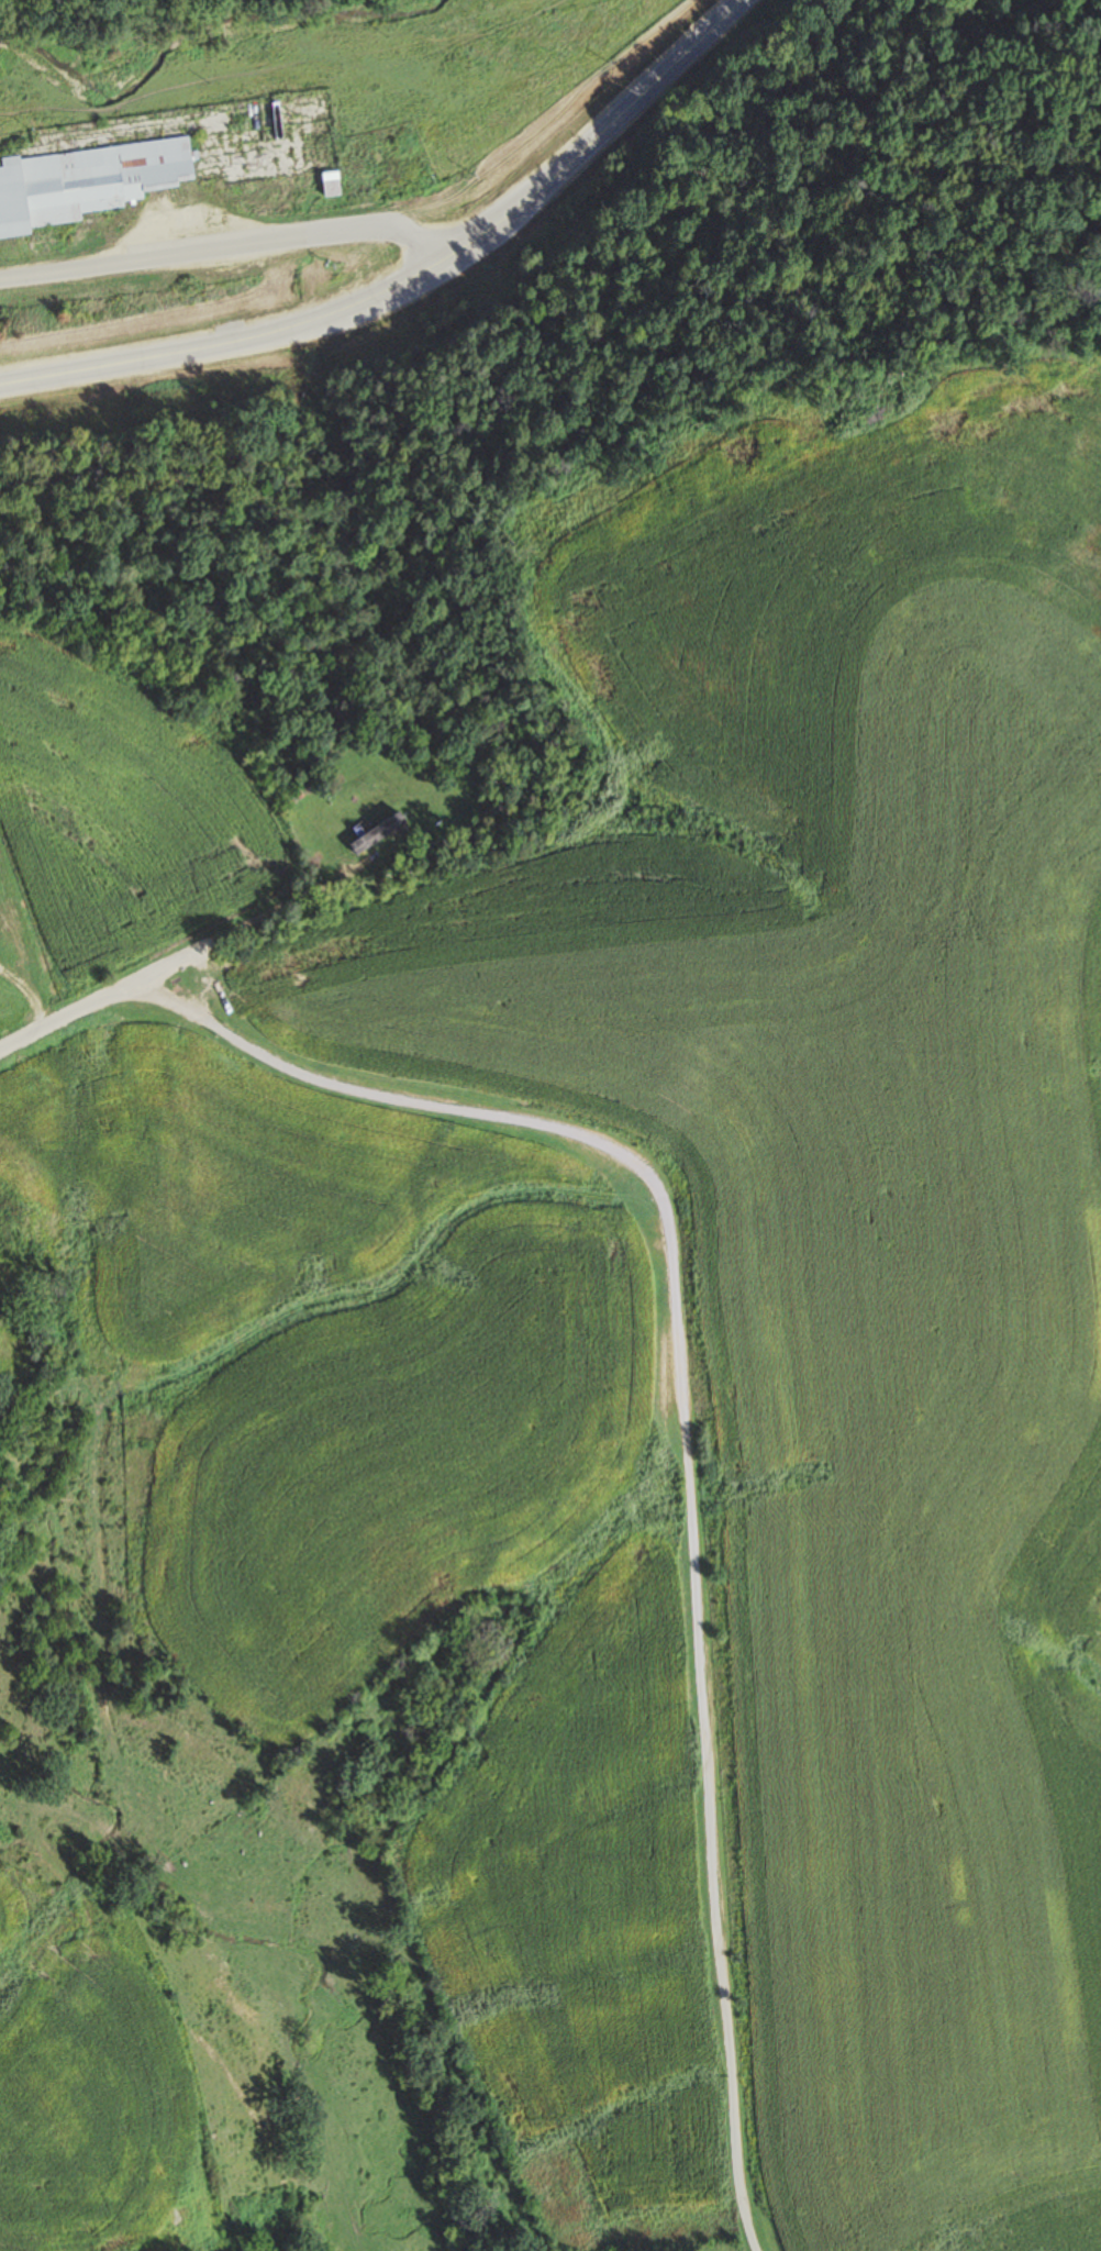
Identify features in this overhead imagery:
building: (85, 181)
building: (331, 182)
road: (234, 246)
road: (416, 279)
building: (379, 744)
building: (376, 831)
road: (245, 924)
building: (13, 936)
road: (290, 1065)

